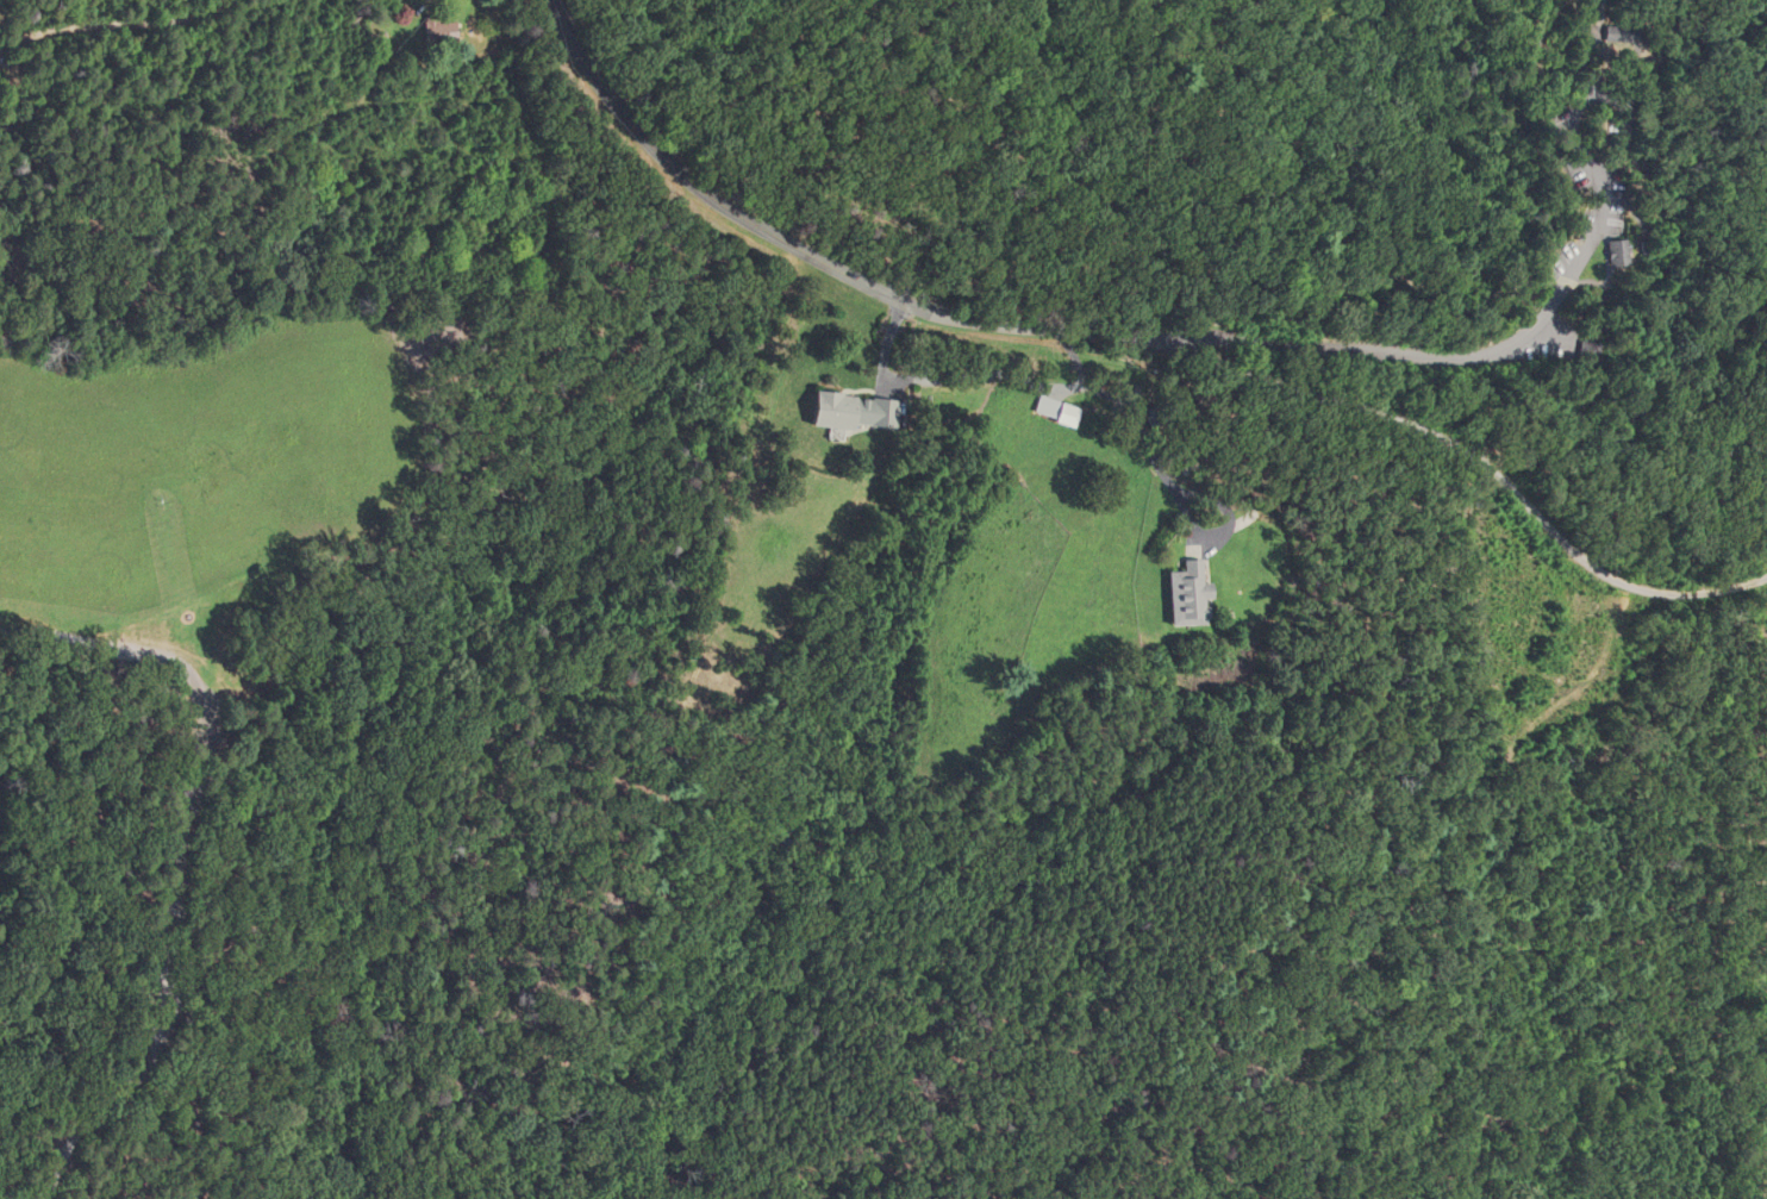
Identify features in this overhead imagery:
road: (121, 29)
building: (438, 31)
building: (1619, 33)
road: (1635, 129)
road: (789, 244)
building: (1612, 245)
parking lot: (1576, 255)
road: (1425, 350)
building: (1594, 352)
road: (976, 374)
building: (1053, 411)
building: (850, 412)
road: (1626, 419)
road: (1148, 444)
road: (1462, 448)
building: (1181, 594)
road: (183, 856)

